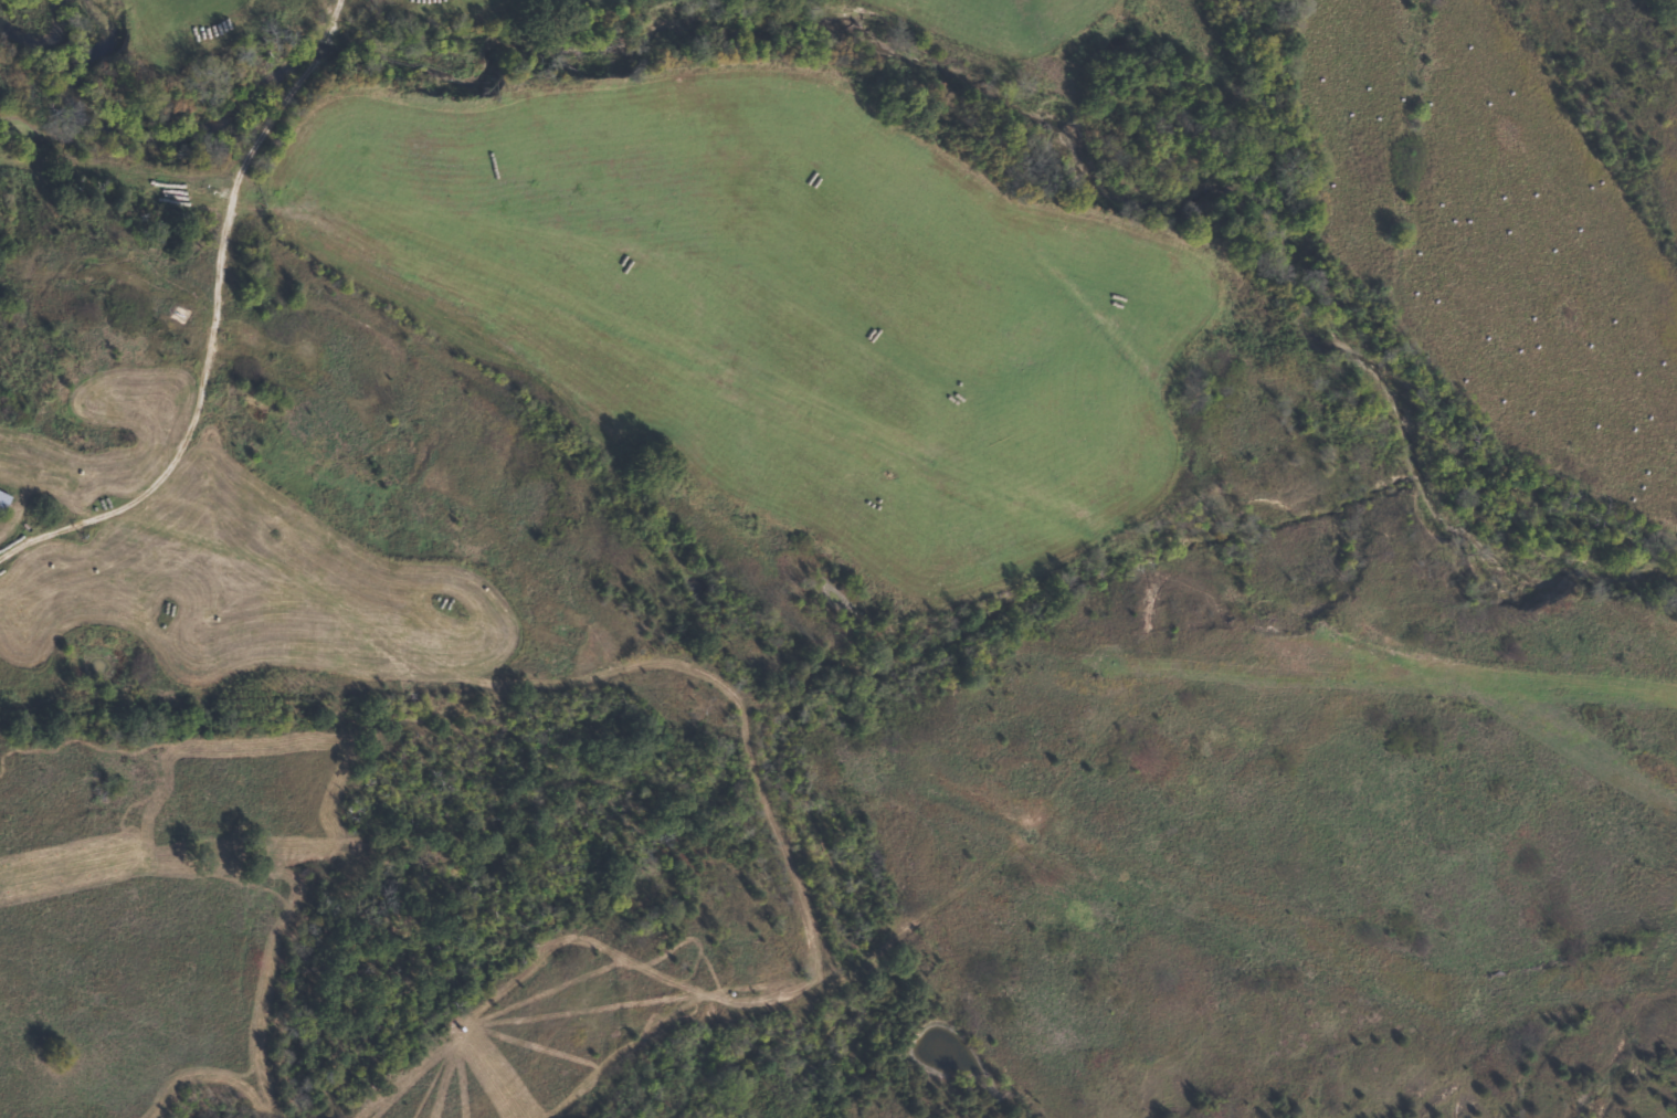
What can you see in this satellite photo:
building: (2, 502)

